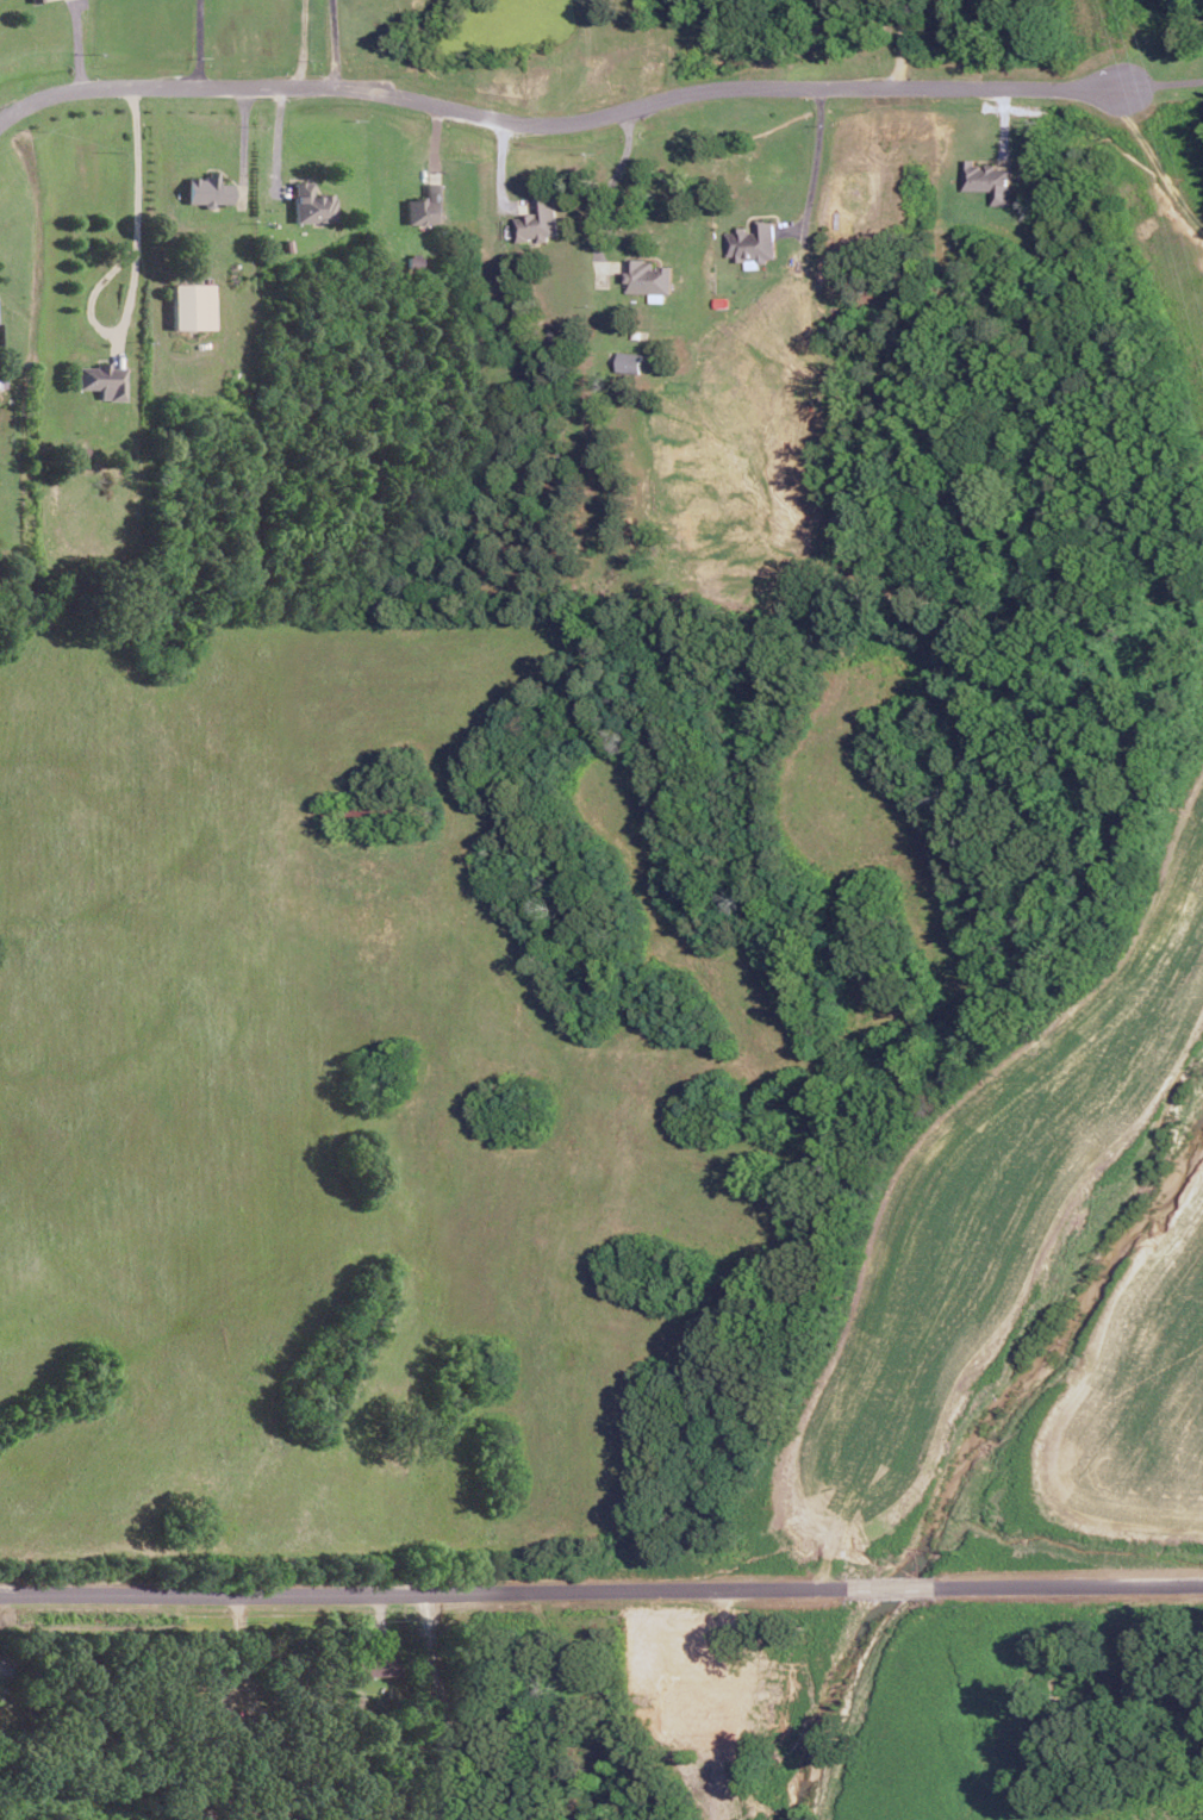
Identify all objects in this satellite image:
building: (33, 0)
road: (195, 43)
road: (297, 43)
road: (331, 43)
road: (900, 43)
road: (1164, 81)
road: (557, 119)
road: (810, 162)
road: (1154, 163)
road: (611, 180)
building: (987, 180)
building: (207, 189)
road: (131, 194)
building: (311, 204)
building: (426, 206)
building: (538, 220)
building: (752, 243)
building: (648, 276)
building: (192, 305)
building: (629, 362)
building: (102, 380)
road: (1079, 1585)
road: (915, 1589)
road: (436, 1591)
building: (374, 1664)
road: (443, 1706)

